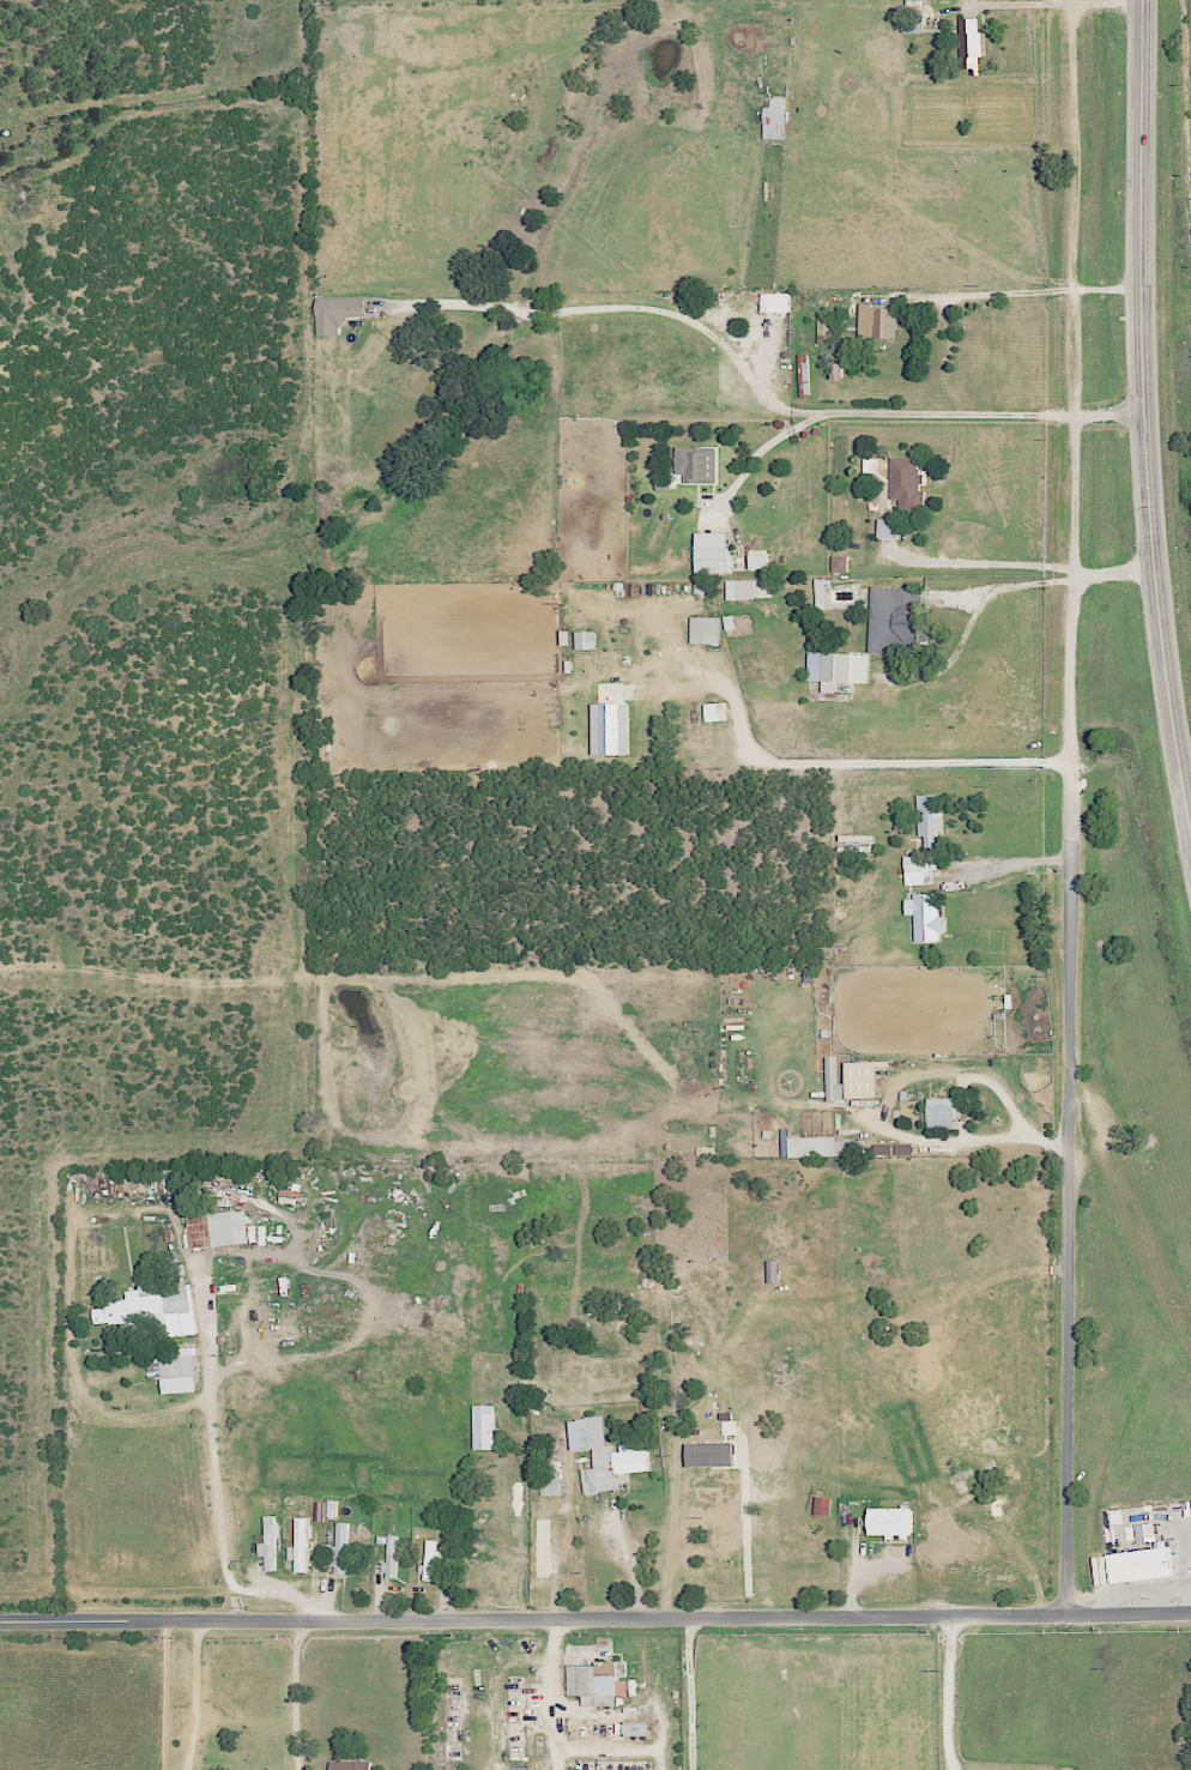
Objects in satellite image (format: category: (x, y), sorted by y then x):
building: (972, 43)
building: (778, 120)
road: (1106, 291)
road: (987, 296)
building: (778, 301)
road: (627, 309)
building: (879, 320)
building: (826, 330)
road: (1074, 399)
road: (947, 415)
road: (1108, 416)
road: (1143, 421)
building: (697, 463)
building: (871, 464)
building: (909, 478)
building: (889, 527)
building: (714, 550)
building: (760, 560)
road: (983, 561)
building: (841, 563)
road: (1114, 573)
building: (742, 588)
building: (897, 618)
building: (706, 629)
building: (587, 639)
building: (839, 667)
building: (717, 711)
building: (611, 727)
road: (869, 763)
building: (929, 820)
road: (1009, 863)
building: (918, 869)
building: (927, 916)
building: (856, 1079)
building: (944, 1112)
road: (878, 1113)
building: (826, 1146)
building: (213, 1221)
road: (1068, 1234)
building: (153, 1310)
building: (181, 1372)
road: (211, 1449)
building: (609, 1455)
building: (824, 1504)
building: (327, 1509)
building: (893, 1521)
road: (676, 1523)
building: (1147, 1532)
building: (271, 1541)
building: (302, 1542)
building: (341, 1548)
building: (393, 1557)
building: (431, 1559)
building: (1135, 1564)
road: (631, 1570)
road: (594, 1619)
building: (597, 1680)
road: (949, 1693)
road: (296, 1695)
road: (689, 1695)
road: (193, 1696)
building: (352, 1765)

